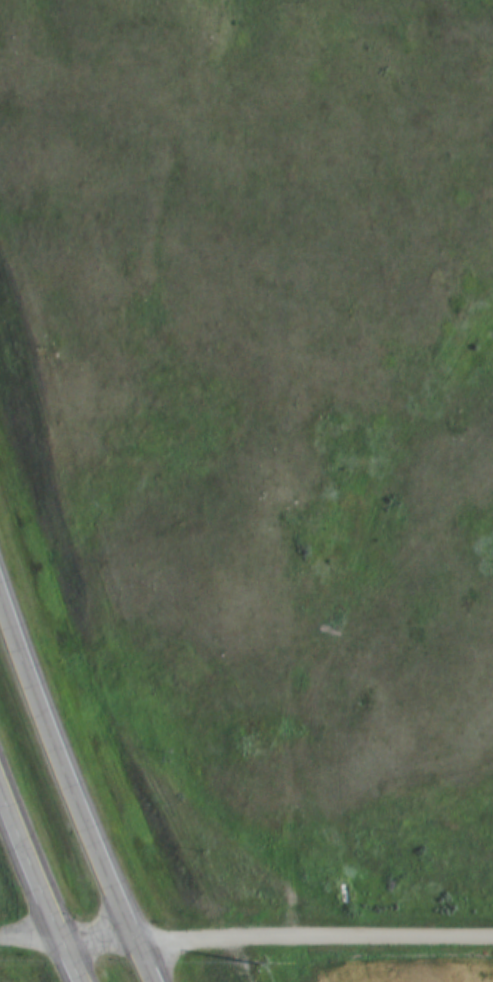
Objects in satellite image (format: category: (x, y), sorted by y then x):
road: (70, 789)
road: (39, 878)
road: (31, 937)
road: (313, 937)
road: (97, 938)

